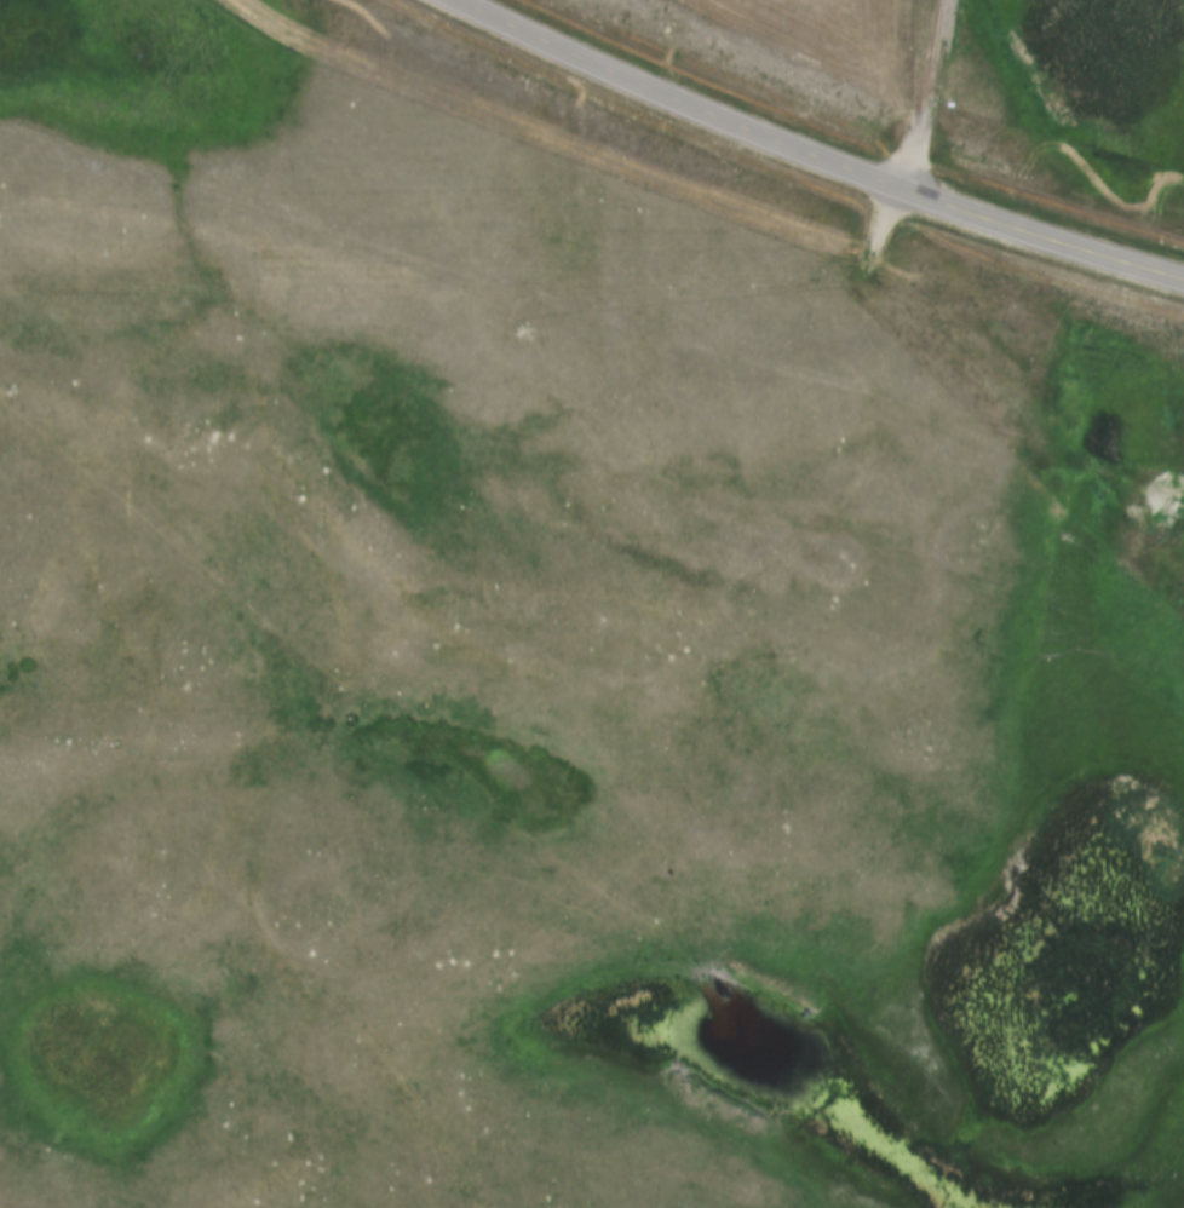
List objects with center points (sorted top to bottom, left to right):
road: (930, 92)
road: (816, 151)

